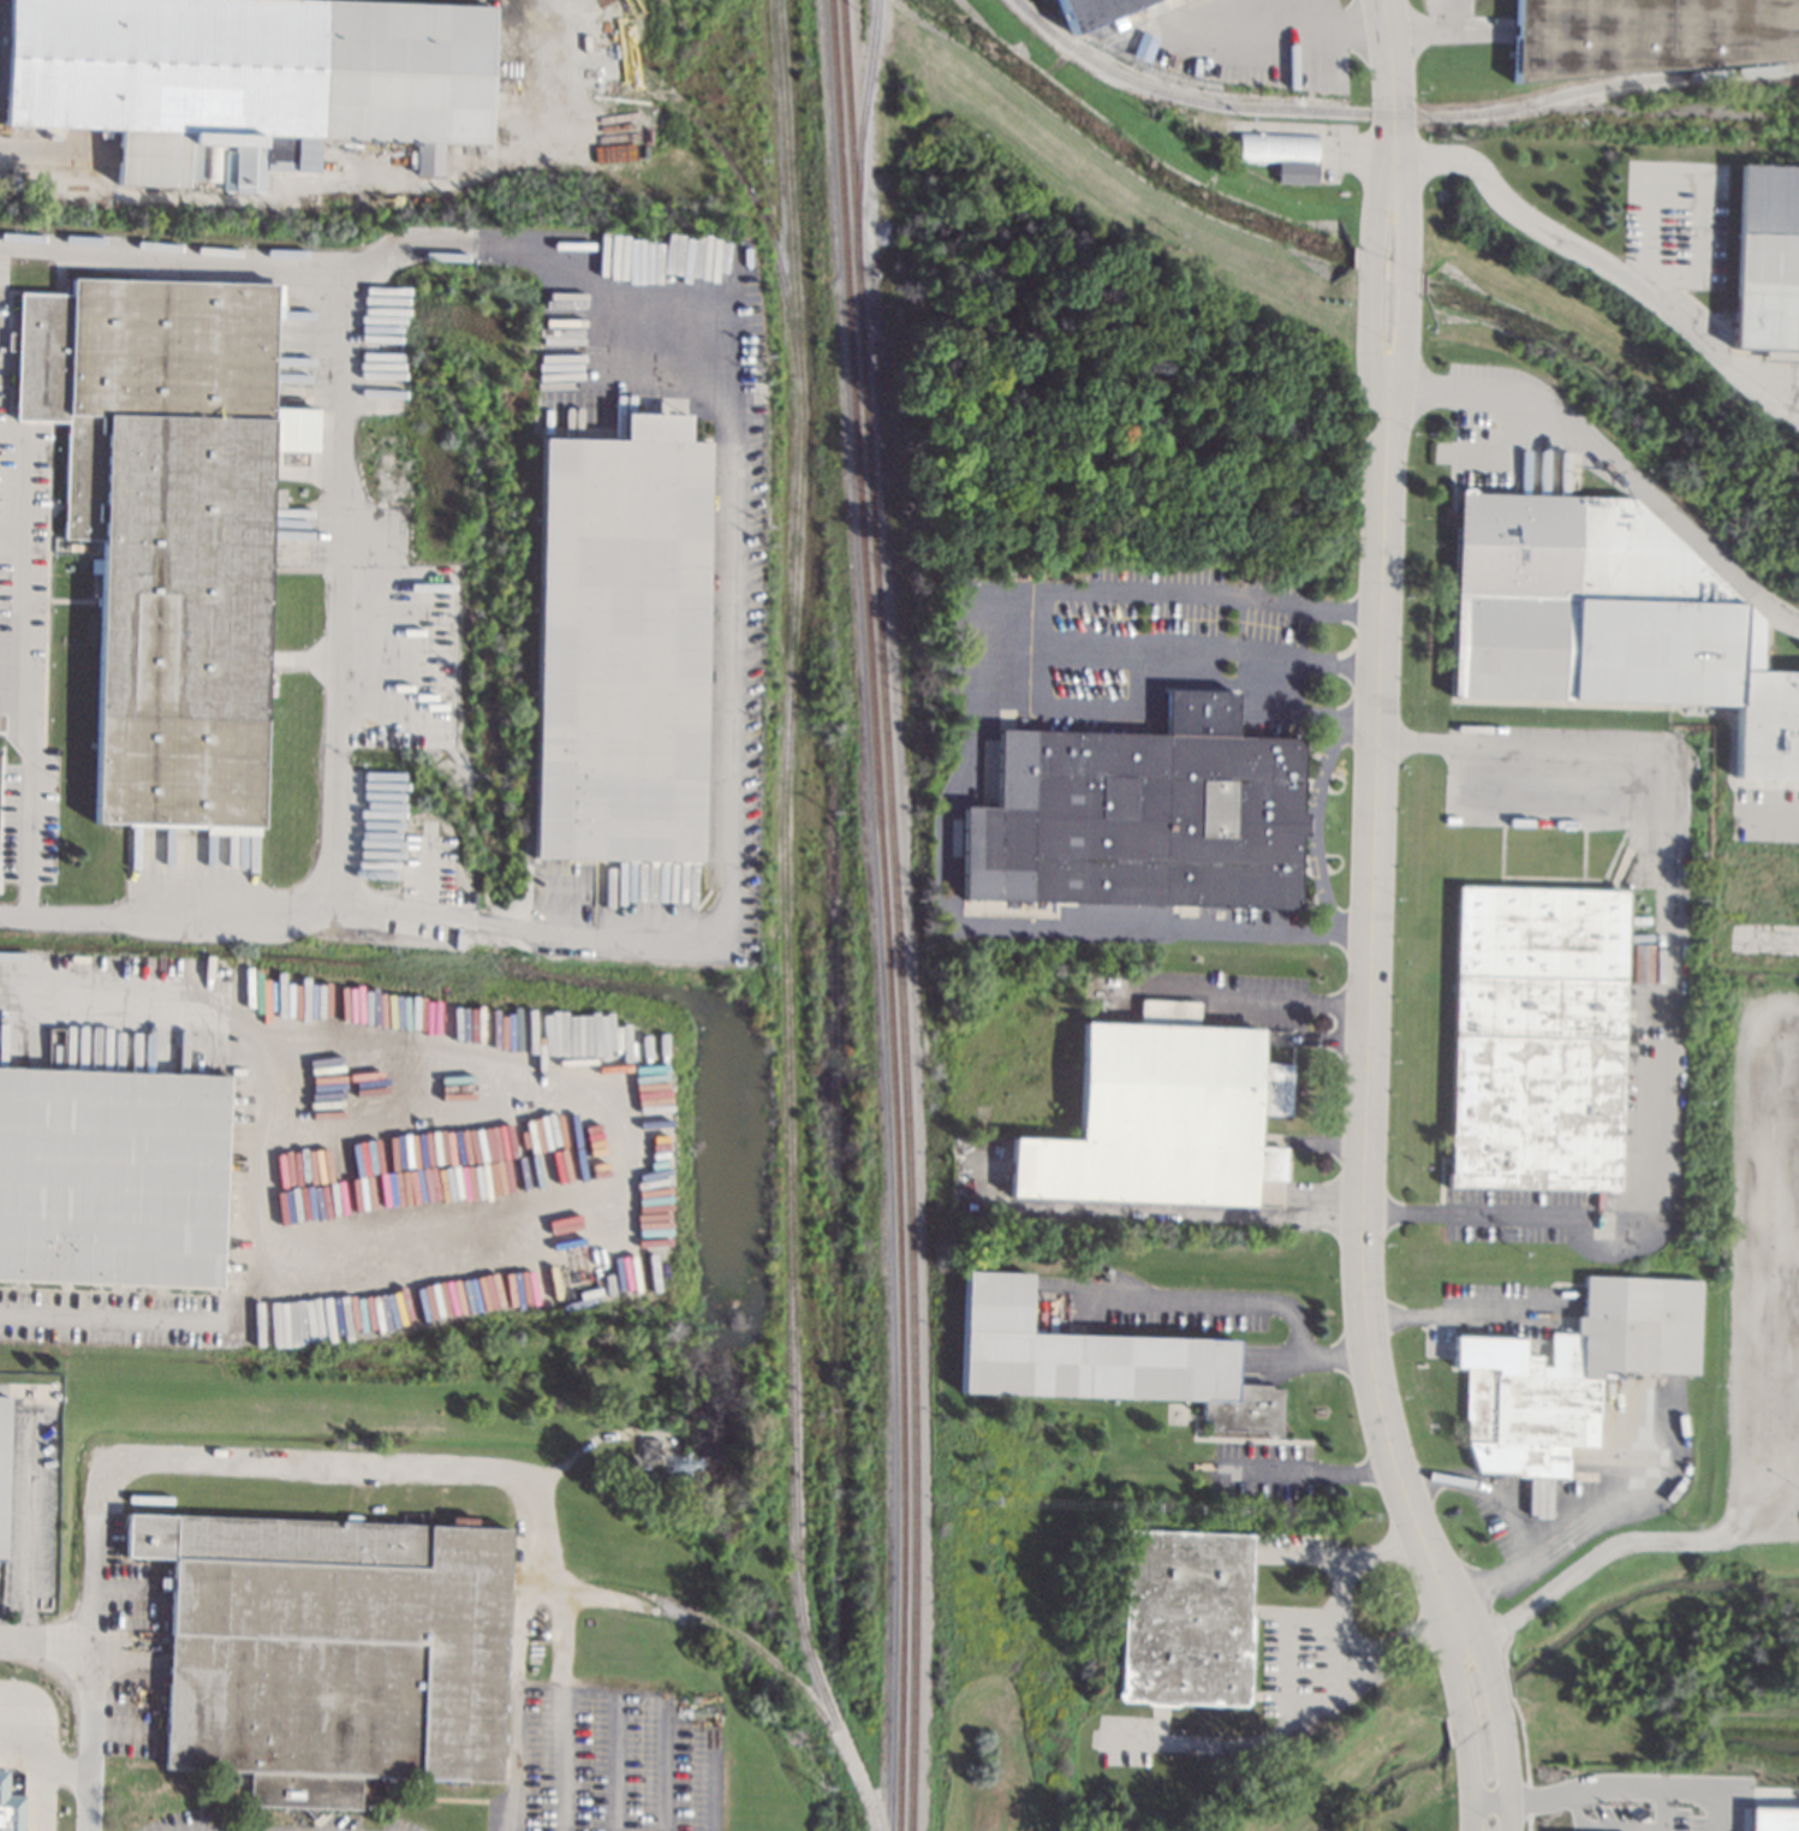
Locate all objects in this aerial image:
building: (1092, 11)
building: (1648, 35)
road: (1335, 36)
building: (243, 72)
road: (1388, 77)
railway: (1632, 81)
railway: (1228, 106)
road: (1312, 130)
railway: (860, 131)
building: (1280, 153)
road: (340, 182)
road: (1703, 183)
road: (374, 257)
building: (1767, 258)
road: (1602, 268)
road: (1368, 275)
road: (1405, 275)
road: (1613, 466)
building: (167, 525)
road: (10, 534)
road: (19, 565)
road: (336, 588)
building: (1607, 617)
road: (731, 624)
road: (1037, 625)
building: (620, 643)
road: (1285, 703)
road: (1773, 801)
road: (25, 813)
building: (1137, 815)
road: (1312, 822)
road: (999, 909)
road: (376, 914)
railway: (883, 915)
railway: (895, 915)
road: (1781, 940)
building: (1639, 963)
road: (1258, 998)
road: (1666, 1005)
road: (1798, 1022)
road: (1371, 1033)
building: (1537, 1036)
building: (1161, 1114)
road: (260, 1169)
road: (1794, 1175)
building: (109, 1176)
road: (1797, 1232)
parking lot: (1762, 1276)
road: (1247, 1302)
road: (1450, 1308)
building: (1097, 1361)
building: (1568, 1372)
building: (649, 1447)
road: (186, 1458)
building: (2, 1466)
road: (1304, 1470)
road: (1511, 1520)
road: (28, 1535)
road: (1346, 1553)
building: (1185, 1618)
road: (1286, 1645)
road: (78, 1646)
road: (1357, 1651)
building: (330, 1652)
road: (559, 1661)
road: (657, 1695)
road: (1513, 1701)
road: (516, 1705)
road: (40, 1714)
road: (1501, 1737)
road: (1261, 1742)
road: (1466, 1742)
road: (710, 1748)
road: (614, 1762)
road: (38, 1774)
road: (1587, 1789)
road: (1709, 1790)
road: (1757, 1791)
road: (1527, 1800)
building: (10, 1807)
parking lot: (1672, 1818)
building: (1771, 1818)
road: (1527, 1824)
road: (1604, 1827)

